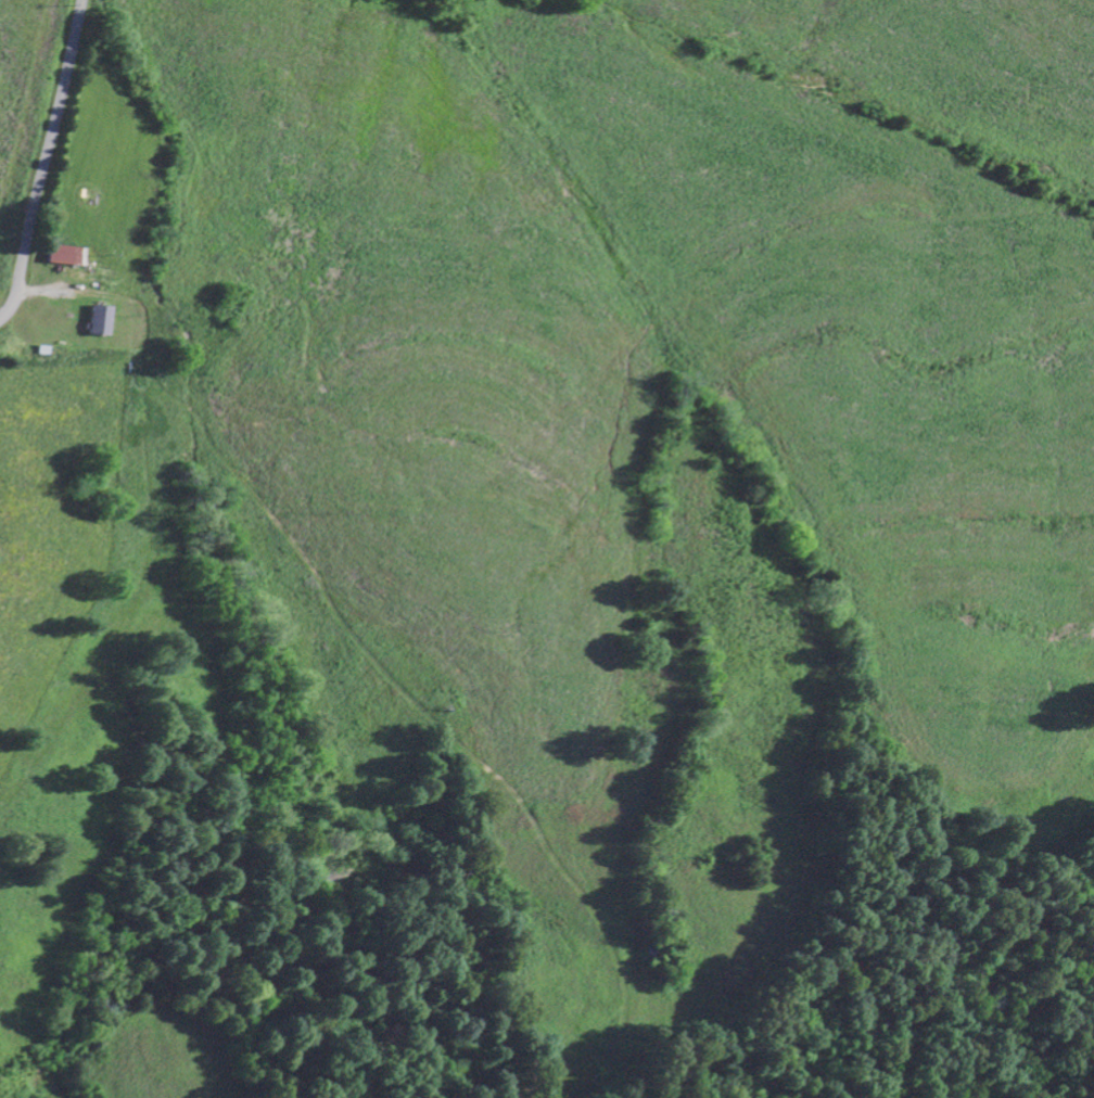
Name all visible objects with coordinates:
road: (46, 161)
building: (63, 255)
building: (96, 320)

